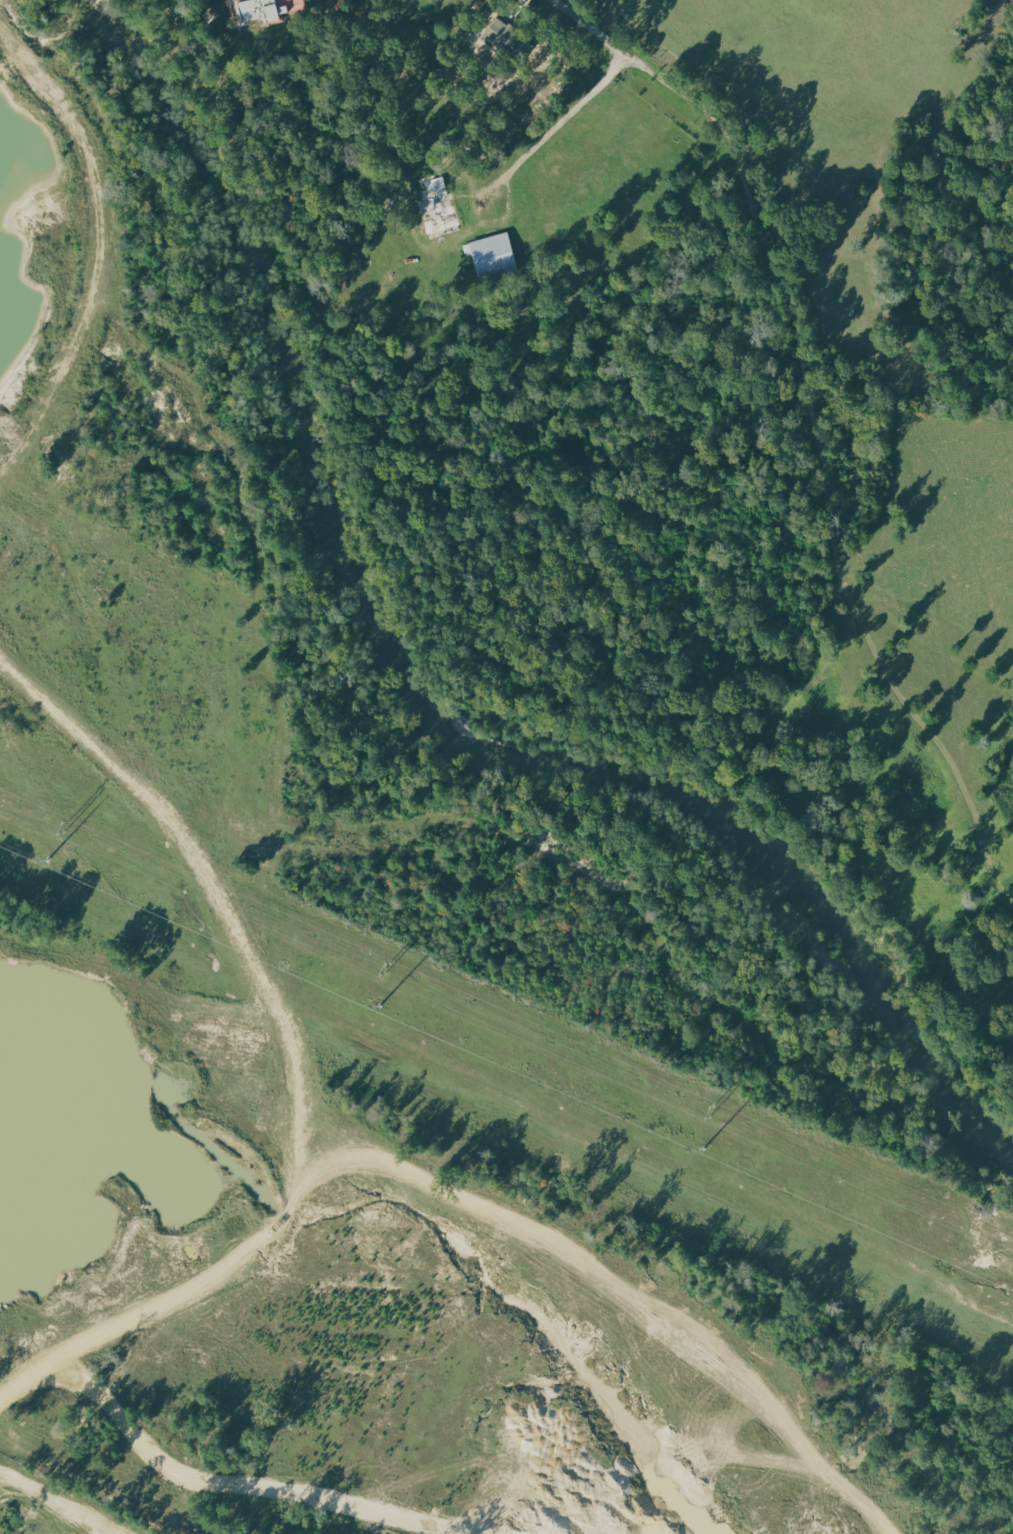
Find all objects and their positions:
building: (348, 0)
building: (265, 10)
road: (555, 131)
building: (439, 206)
road: (763, 223)
road: (101, 239)
building: (491, 254)
river: (416, 691)
power tower: (66, 828)
power tower: (387, 969)
road: (293, 1059)
power tower: (711, 1112)

